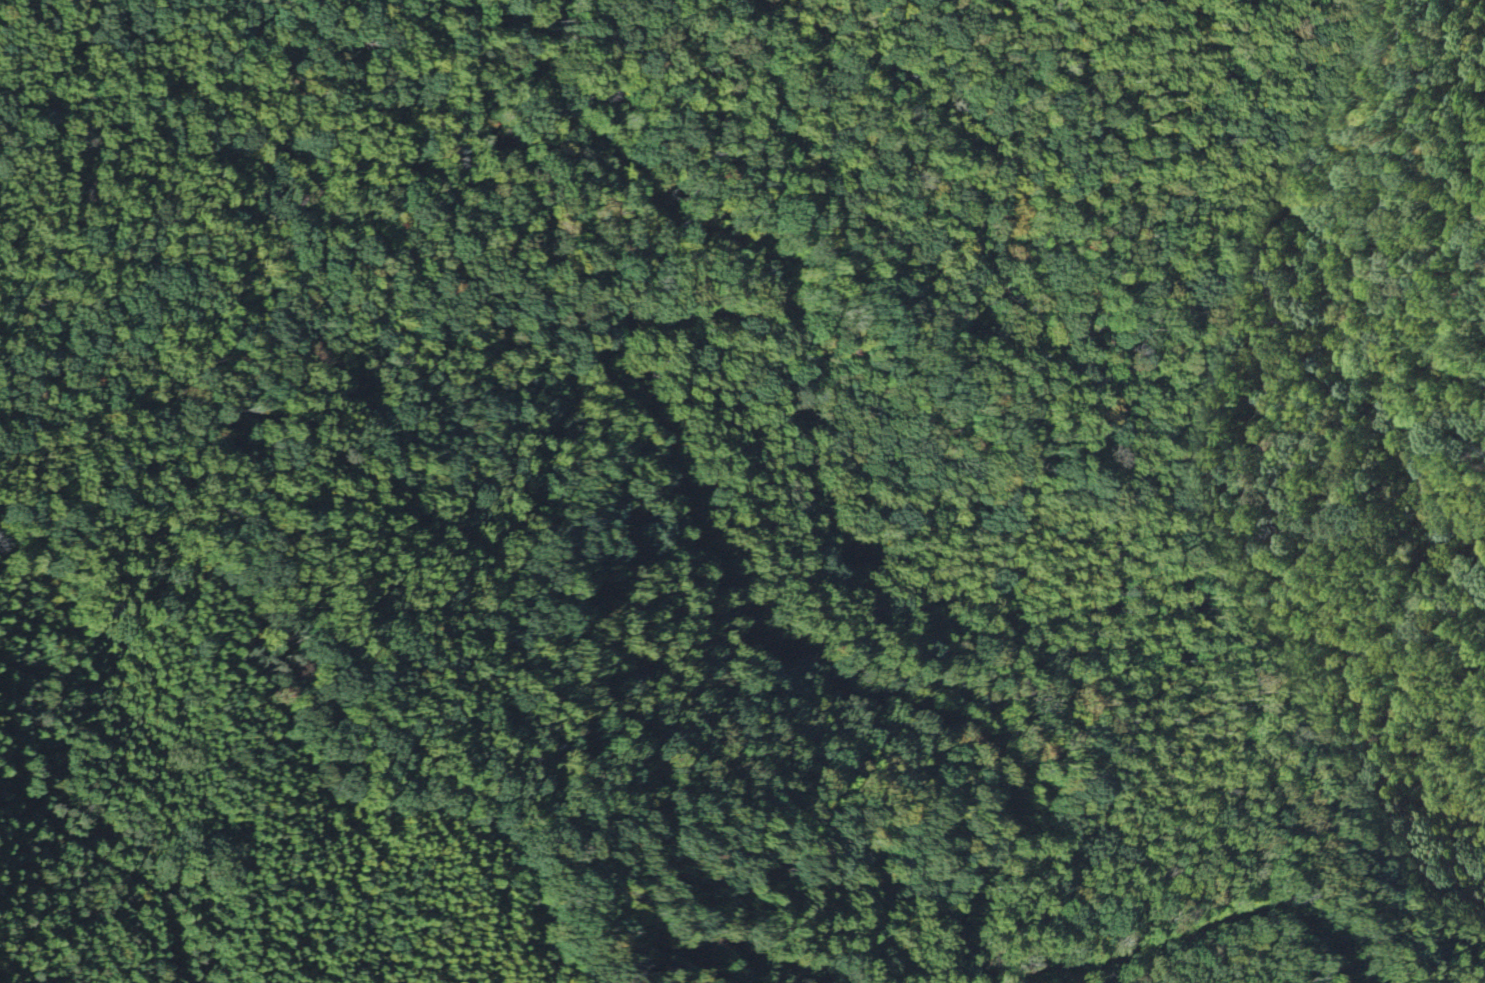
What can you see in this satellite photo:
road: (731, 618)
road: (67, 860)

